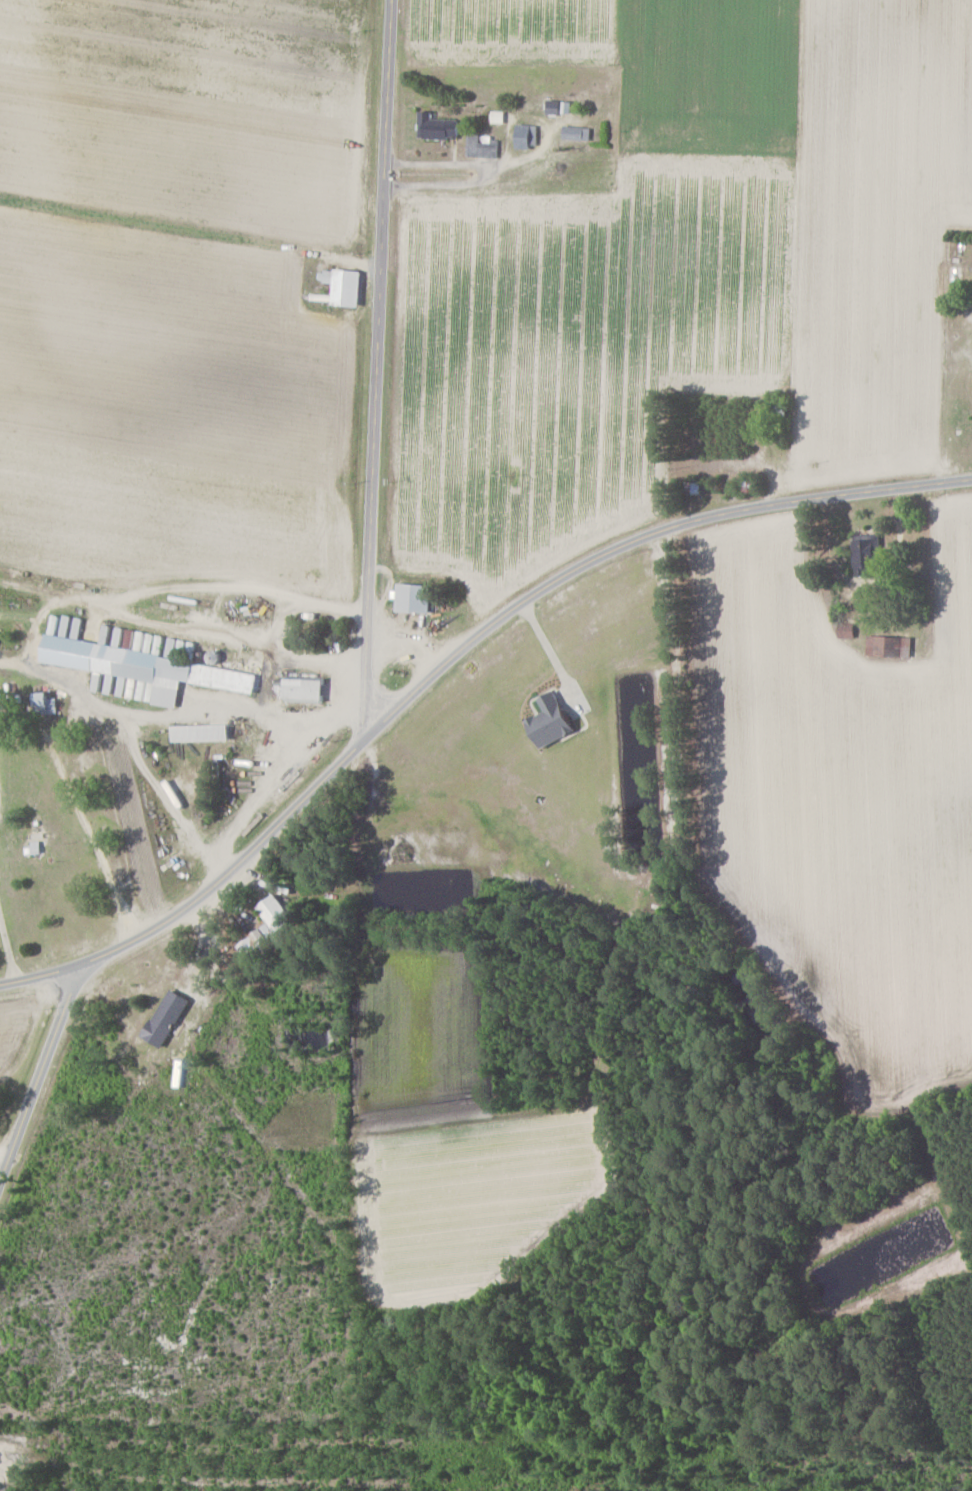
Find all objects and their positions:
road: (546, 125)
building: (438, 126)
building: (577, 132)
building: (528, 135)
road: (435, 161)
road: (437, 183)
building: (347, 286)
road: (378, 369)
building: (867, 552)
building: (416, 597)
road: (37, 620)
building: (847, 630)
building: (890, 645)
road: (552, 653)
road: (13, 661)
road: (451, 661)
building: (149, 667)
road: (345, 687)
building: (306, 689)
building: (47, 703)
road: (248, 712)
building: (553, 720)
building: (203, 732)
road: (261, 761)
road: (83, 825)
building: (277, 913)
building: (258, 941)
road: (6, 953)
building: (167, 1017)
road: (33, 1029)
road: (40, 1060)
road: (0, 1152)

